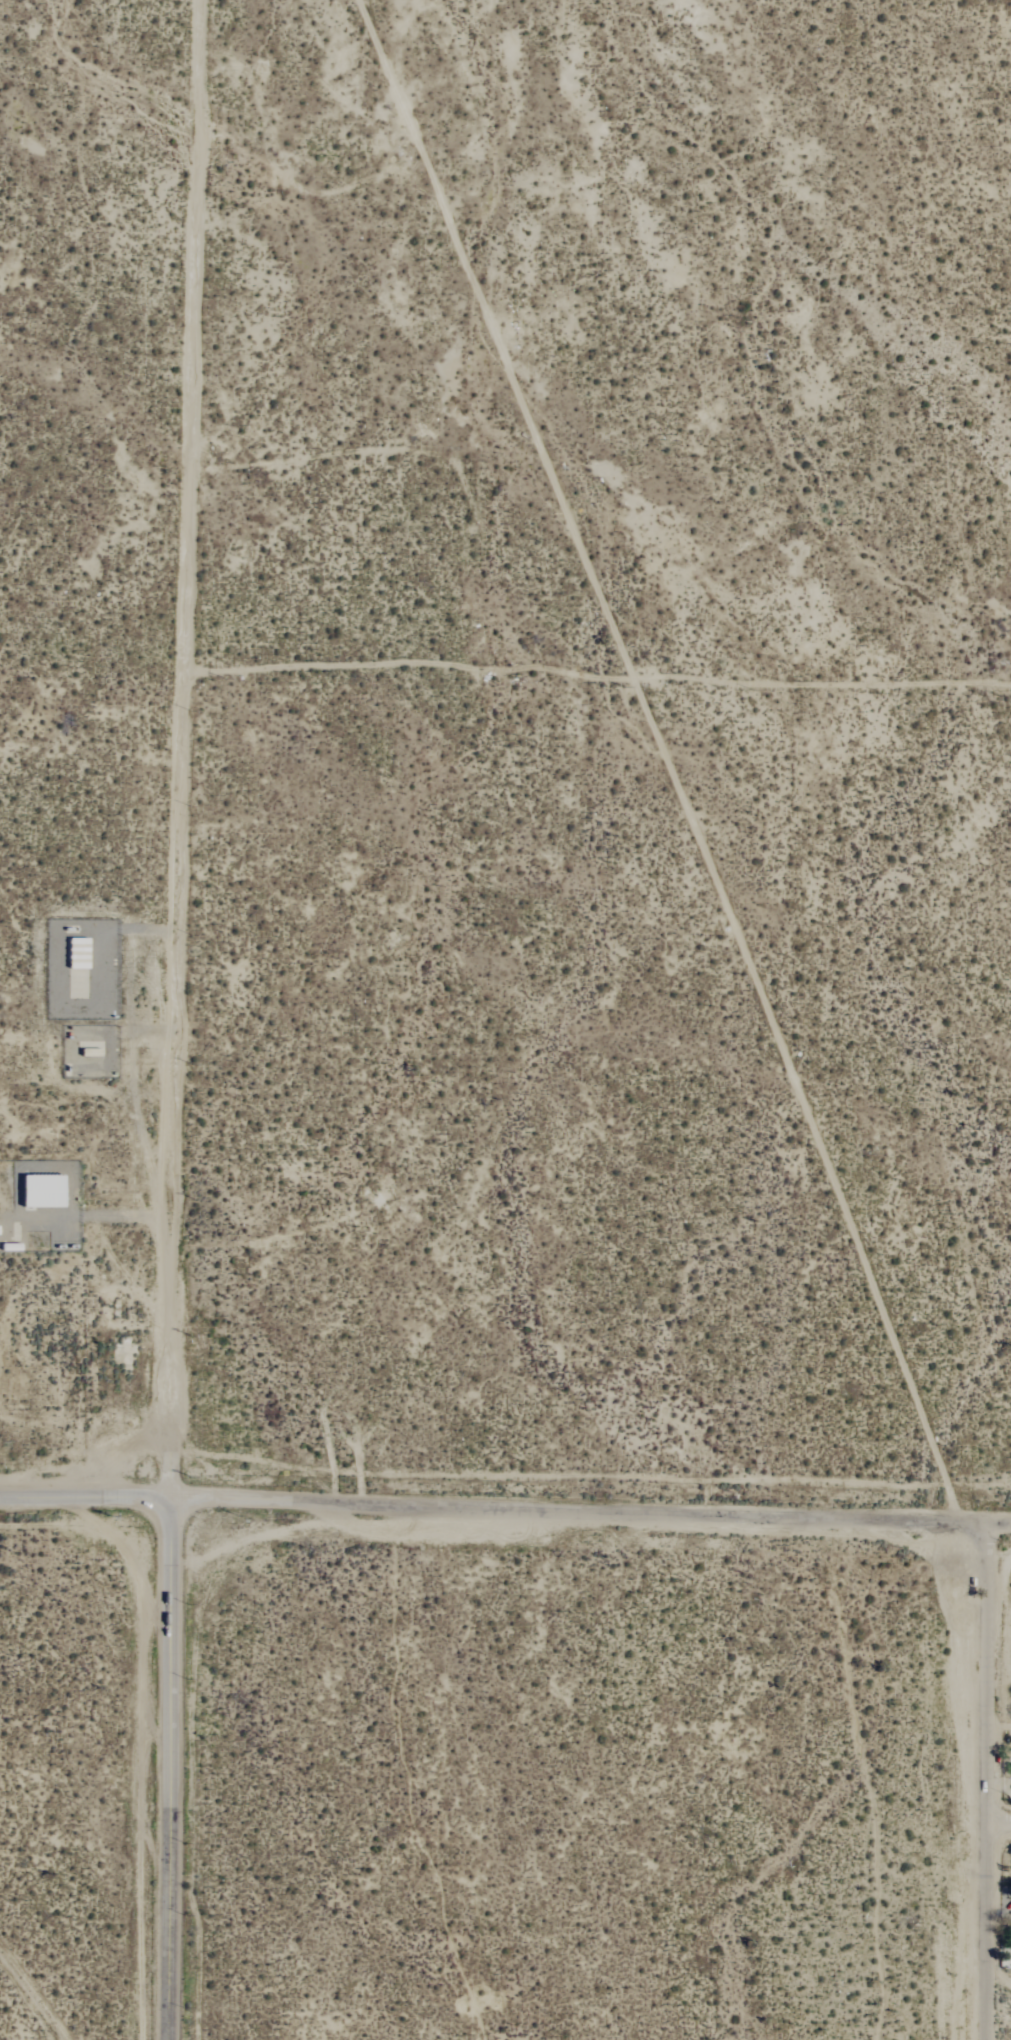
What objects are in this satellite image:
road: (176, 748)
building: (38, 1192)
road: (86, 1496)
road: (579, 1509)
road: (999, 1522)
road: (170, 1768)
road: (987, 1780)
road: (999, 1821)

